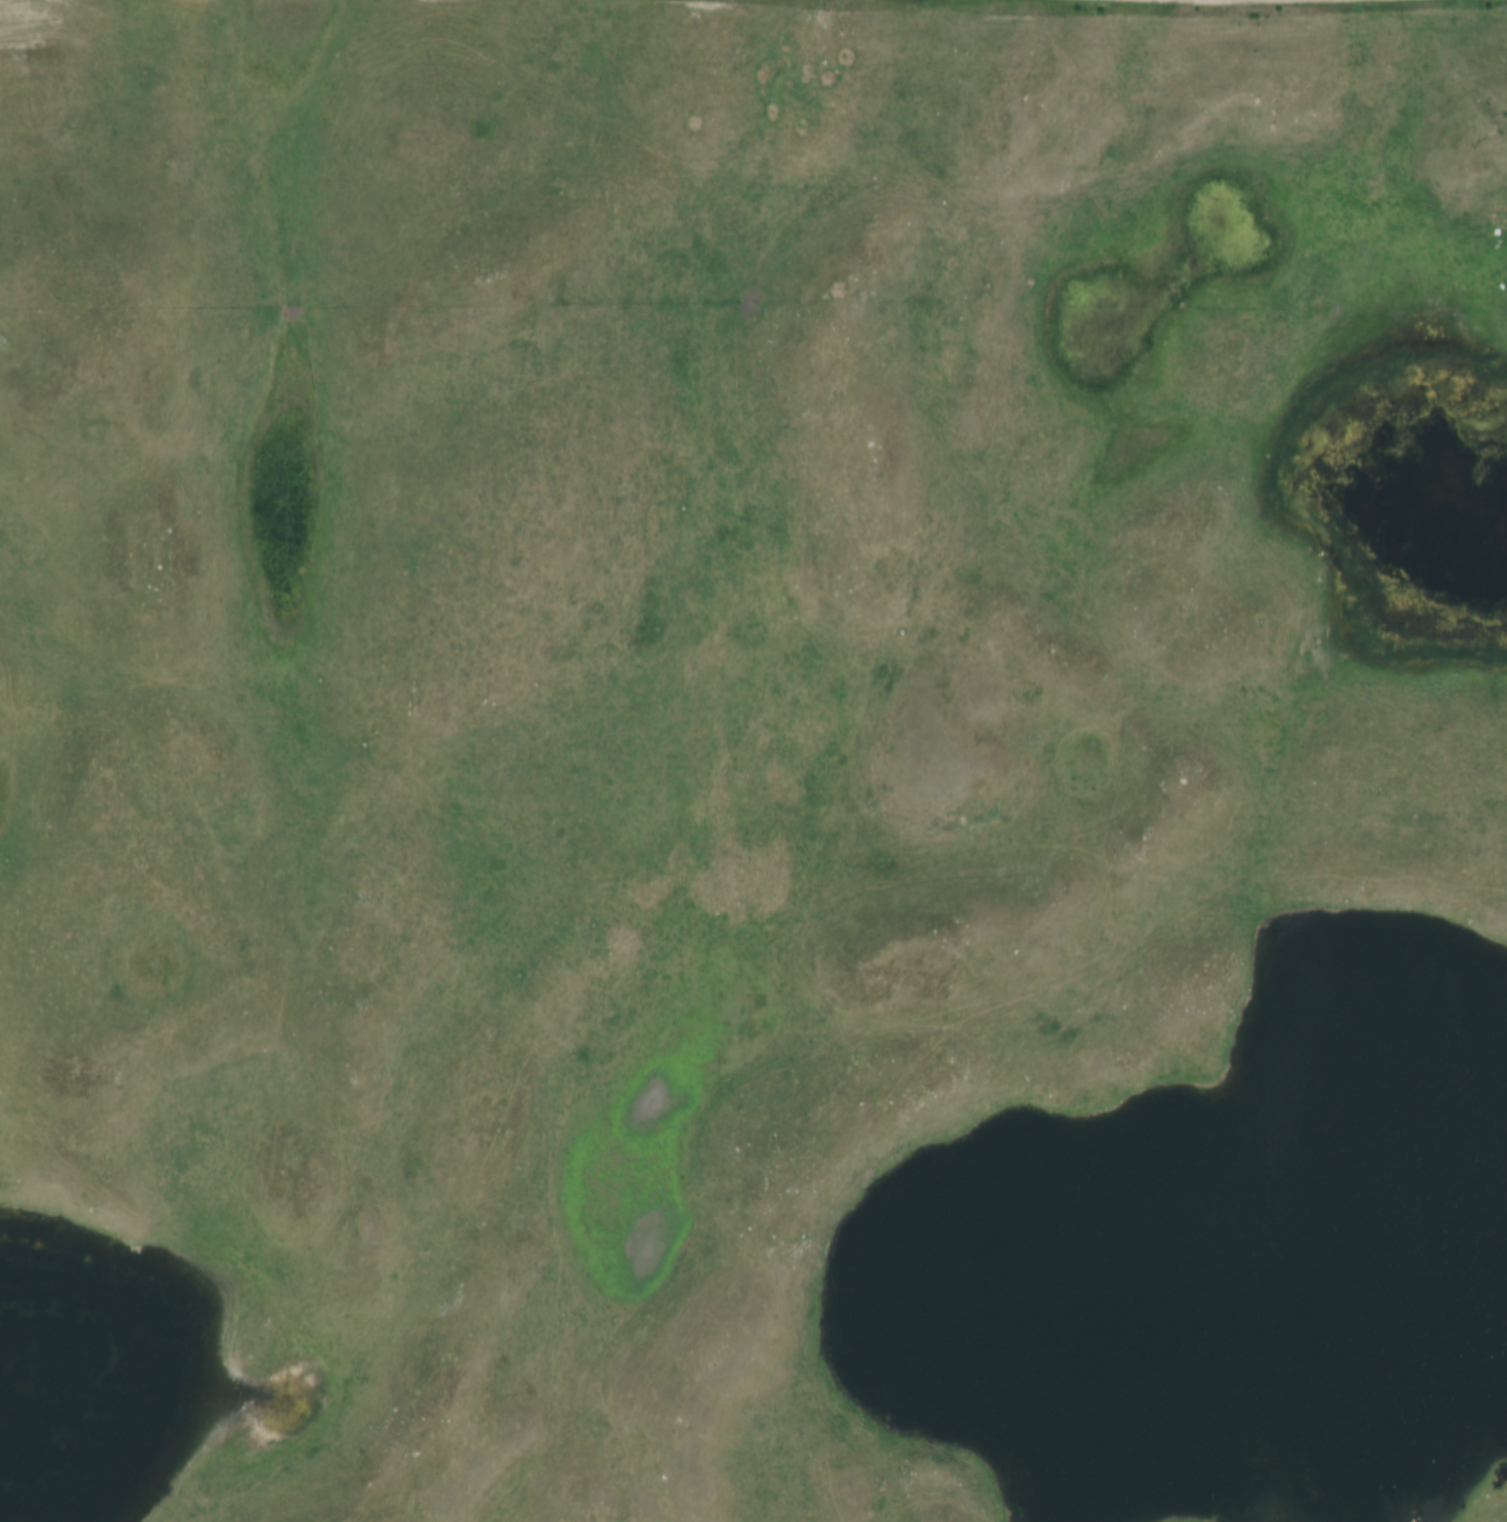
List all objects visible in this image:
road: (658, 381)

